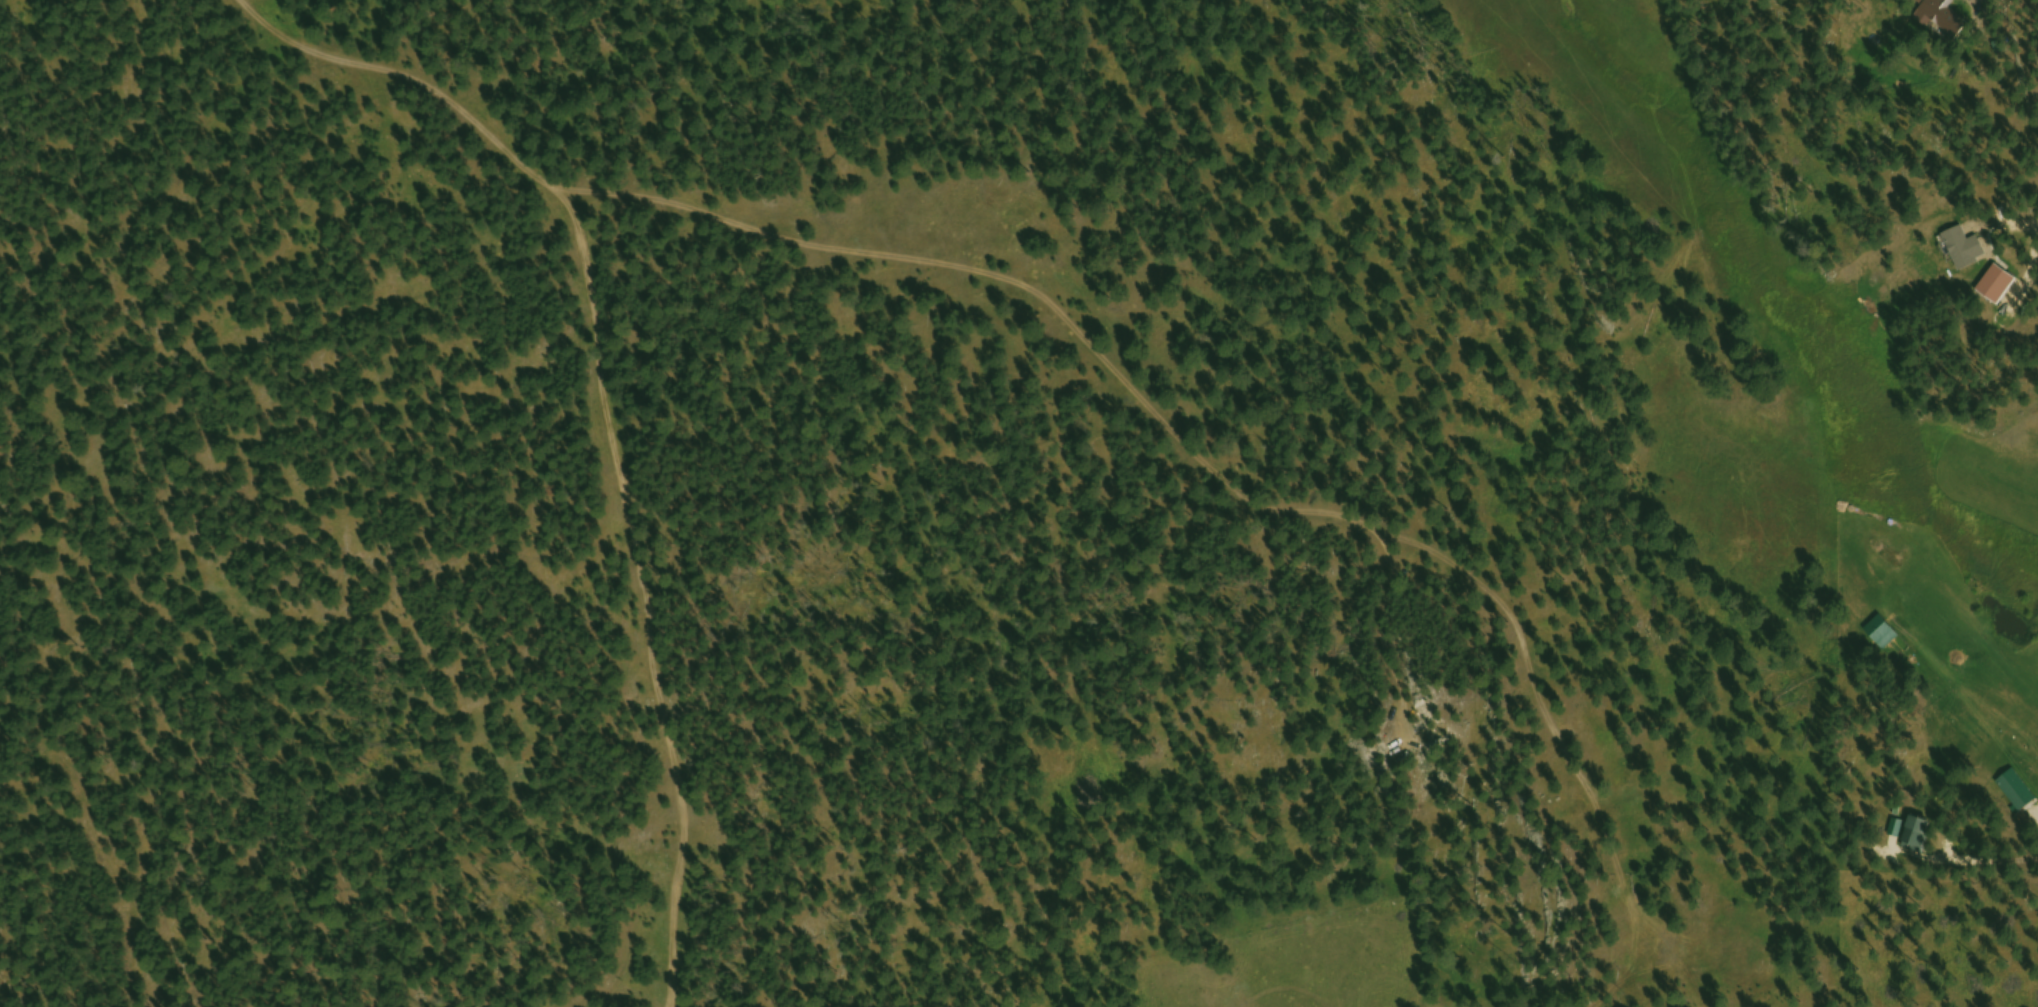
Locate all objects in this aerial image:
building: (1943, 15)
building: (1965, 249)
building: (1998, 286)
road: (603, 410)
building: (1883, 634)
building: (2018, 793)
building: (1919, 837)

